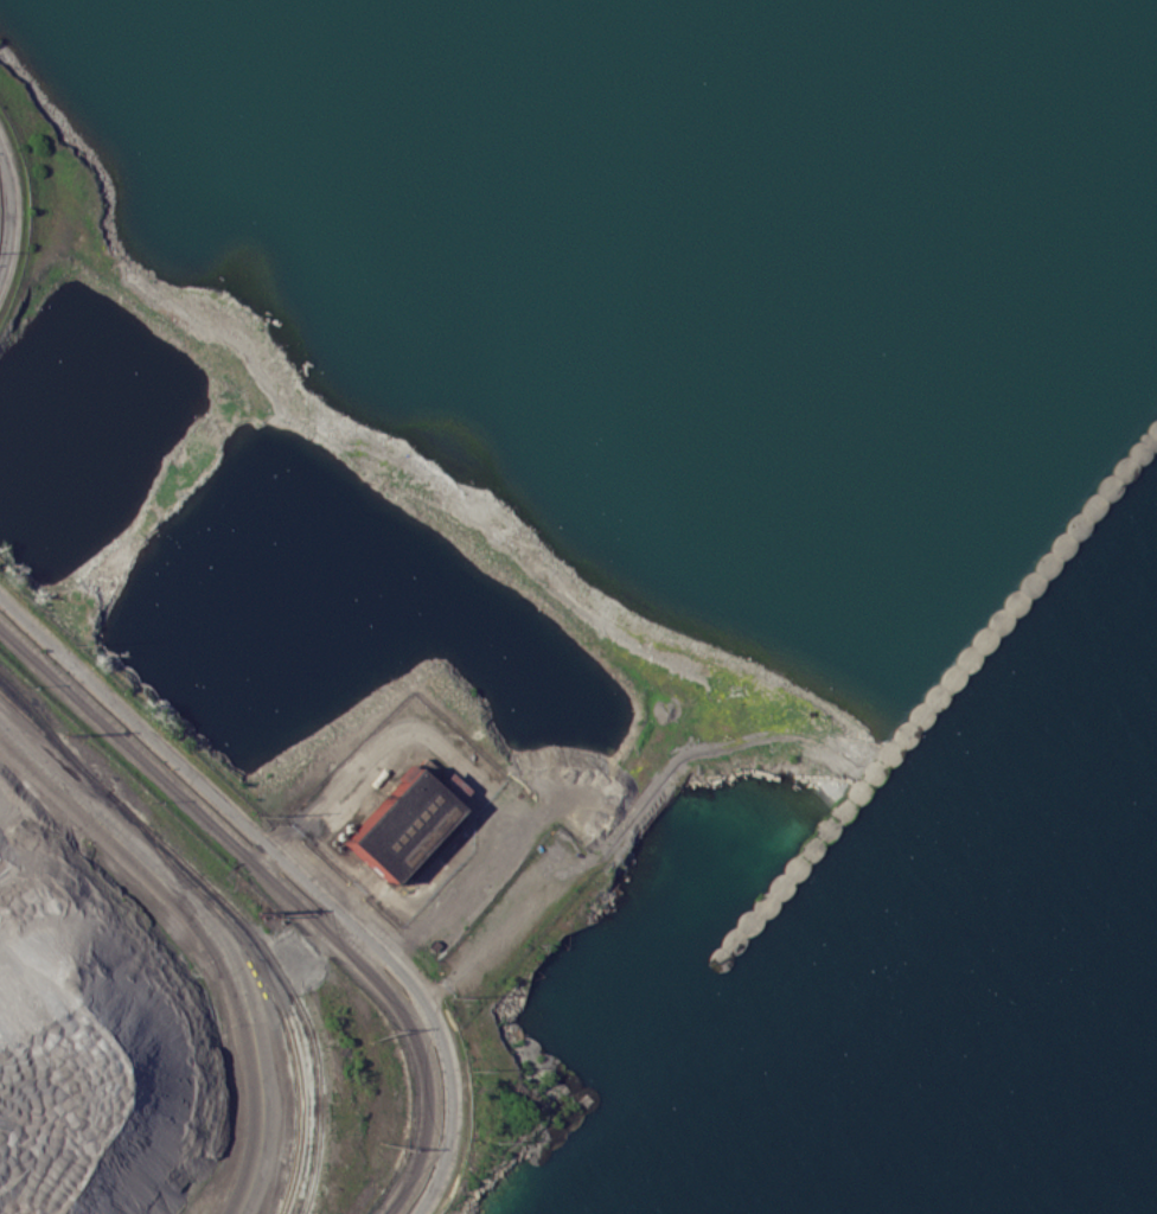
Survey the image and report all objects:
railway: (45, 726)
road: (465, 768)
building: (401, 824)
road: (285, 884)
railway: (235, 914)
road: (219, 929)
railway: (263, 976)
road: (55, 979)

